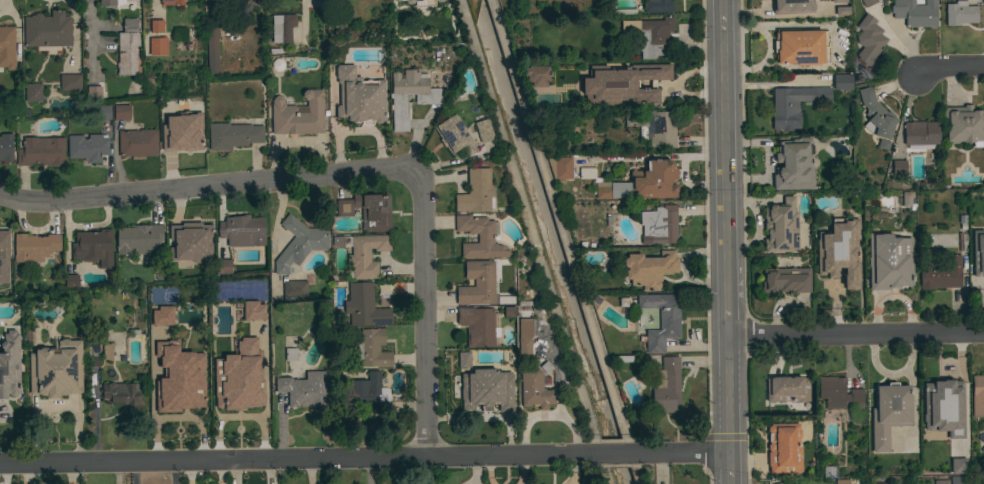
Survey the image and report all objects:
building: (398, 0)
building: (439, 0)
building: (839, 1)
building: (172, 2)
building: (420, 2)
building: (868, 2)
building: (114, 3)
building: (658, 6)
building: (793, 7)
building: (842, 12)
building: (915, 12)
building: (960, 13)
building: (157, 26)
road: (90, 27)
building: (281, 28)
building: (47, 30)
building: (649, 34)
building: (869, 41)
building: (128, 46)
building: (158, 46)
building: (800, 46)
building: (7, 47)
building: (212, 47)
road: (948, 67)
building: (536, 75)
building: (842, 81)
building: (70, 82)
building: (623, 83)
building: (33, 92)
building: (93, 93)
building: (359, 97)
building: (427, 99)
building: (793, 105)
building: (166, 106)
building: (103, 112)
building: (122, 112)
building: (877, 114)
building: (298, 115)
building: (963, 125)
building: (654, 127)
building: (483, 131)
building: (921, 134)
building: (233, 135)
building: (455, 135)
building: (185, 138)
building: (138, 143)
building: (6, 147)
building: (87, 148)
building: (41, 152)
building: (793, 165)
building: (899, 166)
building: (560, 168)
building: (588, 174)
building: (654, 180)
road: (206, 187)
building: (604, 190)
building: (476, 192)
building: (907, 200)
building: (367, 211)
building: (659, 225)
building: (781, 227)
building: (242, 231)
building: (479, 238)
building: (137, 239)
road: (727, 241)
building: (189, 242)
building: (299, 243)
building: (34, 247)
building: (93, 247)
building: (838, 251)
building: (978, 253)
building: (4, 254)
building: (366, 254)
building: (889, 261)
building: (224, 267)
building: (649, 269)
building: (939, 271)
building: (786, 280)
building: (71, 281)
building: (477, 284)
building: (294, 286)
building: (624, 305)
building: (364, 306)
road: (426, 309)
building: (254, 312)
building: (162, 318)
building: (661, 319)
building: (478, 326)
road: (856, 334)
building: (525, 338)
building: (372, 349)
building: (107, 352)
building: (93, 354)
building: (257, 356)
building: (464, 361)
building: (9, 365)
building: (56, 370)
building: (201, 380)
building: (666, 386)
building: (534, 389)
building: (788, 389)
building: (304, 390)
building: (487, 390)
building: (120, 392)
building: (178, 392)
building: (838, 393)
building: (362, 395)
building: (977, 395)
building: (237, 397)
building: (943, 407)
building: (889, 413)
building: (784, 448)
road: (617, 455)
road: (681, 455)
road: (301, 459)
building: (958, 467)
road: (587, 470)
building: (830, 471)
road: (233, 472)
road: (269, 472)
building: (956, 480)
building: (841, 481)
building: (941, 482)
building: (780, 483)
building: (882, 483)

